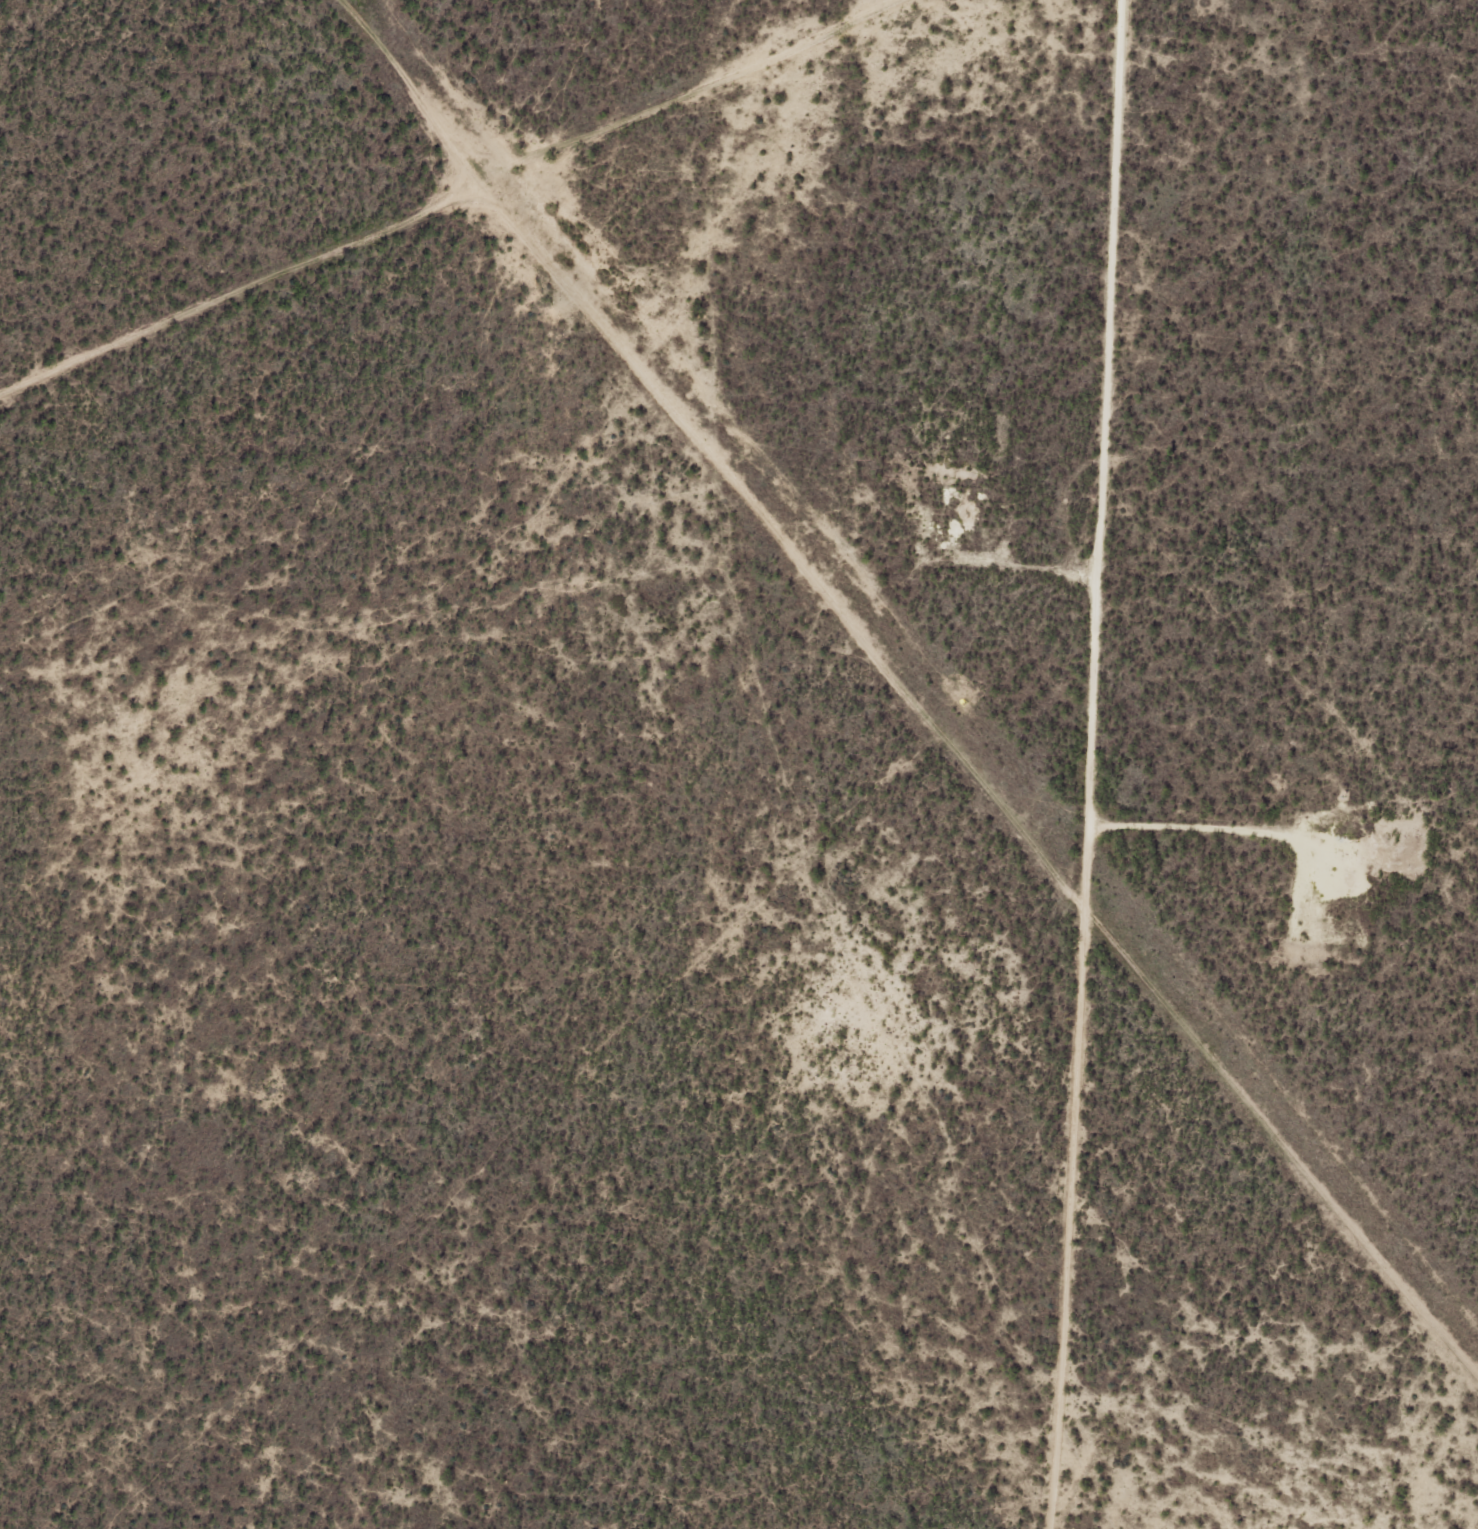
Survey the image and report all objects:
road: (368, 236)
road: (594, 275)
road: (720, 659)
road: (1072, 766)

